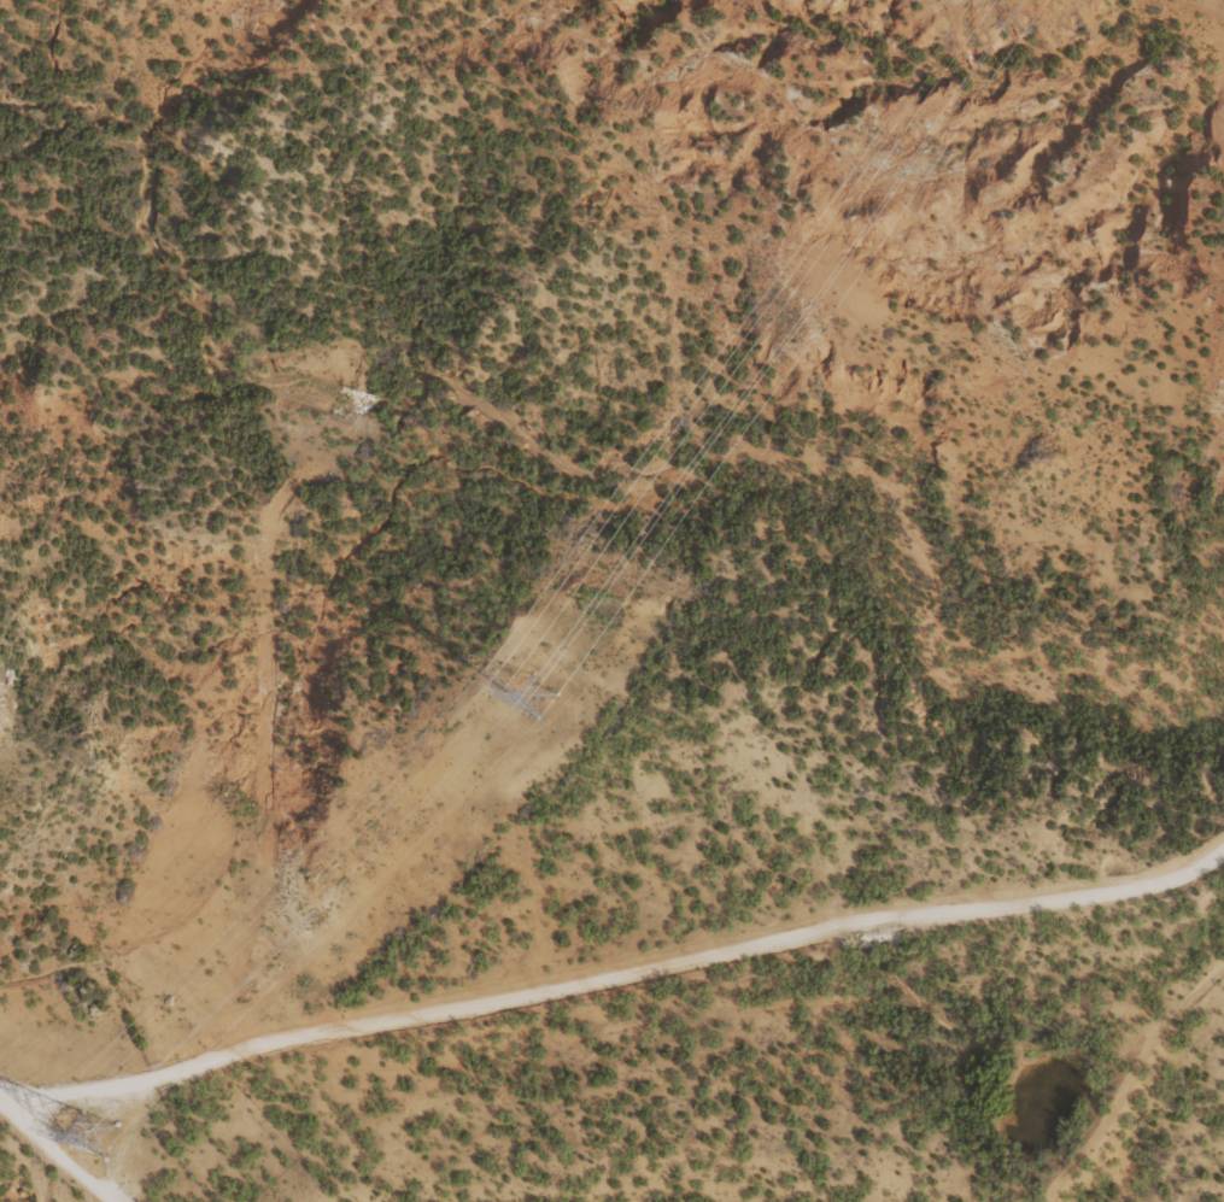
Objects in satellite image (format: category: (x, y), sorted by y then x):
power tower: (533, 696)
road: (616, 968)
power tower: (88, 1137)
road: (58, 1154)

